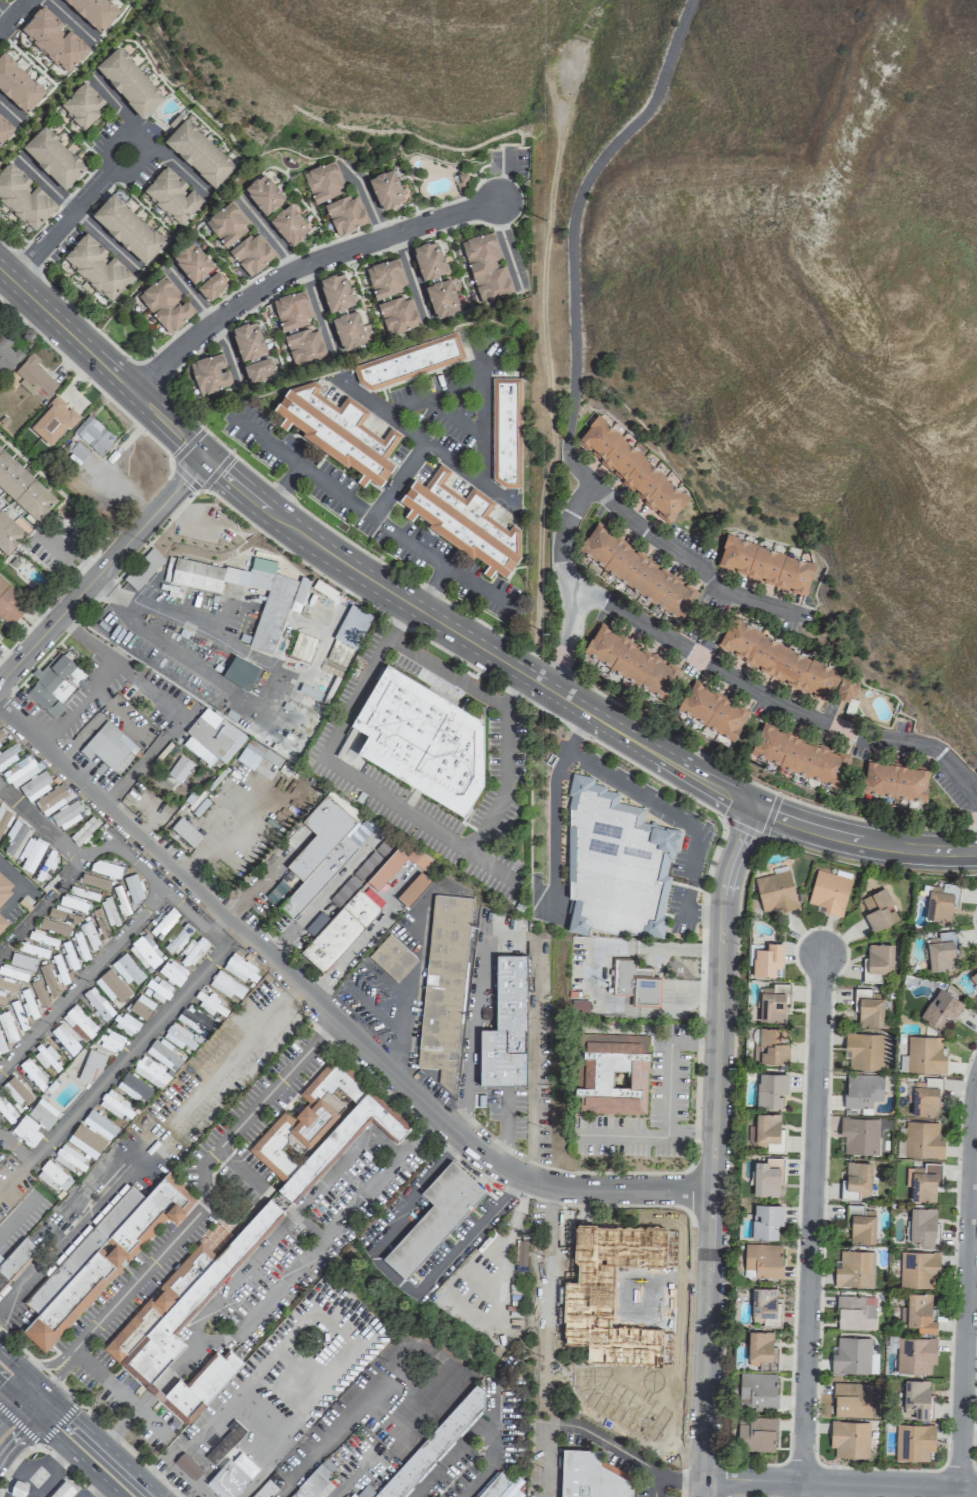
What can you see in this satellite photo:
building: (94, 12)
road: (12, 14)
building: (53, 40)
building: (130, 82)
building: (17, 85)
building: (83, 106)
building: (4, 129)
building: (199, 153)
building: (54, 157)
building: (324, 182)
building: (387, 189)
building: (265, 194)
road: (368, 194)
building: (173, 196)
building: (24, 198)
road: (77, 207)
road: (76, 211)
building: (346, 214)
road: (572, 214)
building: (228, 223)
building: (290, 225)
building: (128, 228)
road: (268, 230)
road: (508, 242)
building: (252, 253)
building: (430, 260)
building: (193, 263)
road: (297, 266)
building: (98, 267)
building: (486, 269)
road: (411, 277)
building: (386, 278)
building: (213, 286)
building: (337, 292)
building: (443, 299)
building: (166, 305)
road: (318, 309)
building: (293, 310)
building: (399, 315)
road: (215, 318)
road: (65, 330)
building: (350, 331)
building: (249, 341)
building: (305, 346)
building: (7, 355)
building: (410, 362)
building: (259, 370)
building: (209, 374)
building: (33, 376)
road: (443, 391)
road: (481, 405)
building: (52, 421)
road: (166, 425)
building: (338, 430)
building: (506, 431)
building: (95, 435)
road: (416, 435)
road: (267, 442)
building: (77, 450)
traffic signals: (202, 458)
road: (480, 459)
building: (633, 470)
building: (24, 487)
road: (117, 490)
road: (371, 515)
building: (464, 521)
building: (9, 533)
road: (54, 544)
road: (679, 552)
road: (67, 555)
building: (766, 565)
building: (143, 568)
road: (101, 570)
building: (637, 573)
road: (369, 580)
road: (564, 582)
road: (479, 586)
building: (300, 590)
road: (111, 591)
building: (9, 605)
building: (269, 618)
road: (308, 625)
building: (352, 626)
road: (141, 630)
building: (0, 636)
building: (778, 660)
building: (630, 662)
road: (287, 673)
building: (53, 685)
building: (848, 690)
road: (567, 699)
road: (769, 699)
road: (166, 703)
road: (79, 706)
building: (711, 711)
road: (576, 730)
building: (1, 734)
building: (213, 735)
building: (422, 739)
building: (111, 746)
building: (9, 754)
building: (252, 754)
building: (800, 756)
road: (668, 759)
building: (179, 769)
building: (20, 770)
building: (894, 781)
building: (34, 786)
building: (51, 799)
traffic signals: (751, 807)
building: (67, 814)
building: (3, 820)
road: (680, 821)
road: (39, 825)
road: (552, 827)
building: (185, 832)
road: (440, 836)
building: (15, 837)
road: (861, 842)
building: (325, 849)
building: (30, 853)
building: (615, 865)
building: (105, 868)
road: (728, 874)
road: (16, 877)
building: (94, 881)
building: (133, 887)
building: (5, 888)
building: (278, 888)
building: (414, 889)
building: (776, 891)
building: (829, 892)
building: (84, 893)
road: (320, 895)
road: (157, 896)
building: (120, 900)
building: (358, 902)
building: (73, 903)
building: (939, 905)
building: (878, 909)
road: (187, 910)
building: (108, 911)
building: (63, 914)
building: (2, 922)
building: (100, 922)
building: (164, 923)
building: (501, 924)
building: (54, 927)
building: (89, 935)
road: (367, 936)
building: (177, 937)
building: (41, 938)
building: (79, 946)
building: (34, 950)
building: (192, 951)
building: (941, 951)
building: (144, 952)
building: (68, 955)
building: (392, 958)
building: (768, 960)
building: (877, 961)
building: (239, 968)
building: (127, 969)
building: (59, 970)
road: (720, 970)
building: (171, 971)
building: (13, 972)
road: (595, 977)
building: (974, 978)
building: (48, 979)
building: (635, 983)
building: (8, 985)
building: (226, 985)
building: (112, 986)
building: (444, 986)
building: (159, 989)
building: (38, 992)
building: (26, 1002)
building: (209, 1003)
building: (774, 1003)
building: (97, 1004)
building: (141, 1006)
building: (868, 1008)
building: (941, 1009)
road: (328, 1012)
building: (16, 1016)
road: (718, 1019)
building: (195, 1020)
building: (79, 1023)
building: (505, 1023)
building: (124, 1024)
building: (6, 1027)
building: (180, 1036)
building: (64, 1039)
road: (468, 1039)
building: (110, 1040)
building: (1, 1045)
building: (772, 1045)
building: (864, 1051)
road: (235, 1052)
road: (128, 1053)
building: (925, 1055)
building: (157, 1063)
road: (668, 1063)
building: (90, 1064)
road: (533, 1064)
building: (610, 1074)
building: (133, 1088)
building: (17, 1089)
building: (771, 1090)
building: (864, 1091)
road: (268, 1092)
building: (925, 1097)
building: (116, 1105)
building: (7, 1110)
building: (42, 1113)
building: (99, 1124)
road: (505, 1127)
building: (320, 1129)
building: (25, 1130)
building: (770, 1131)
road: (653, 1132)
building: (860, 1136)
building: (85, 1140)
building: (923, 1140)
road: (346, 1158)
building: (69, 1159)
building: (49, 1174)
road: (380, 1175)
building: (766, 1178)
building: (857, 1179)
building: (923, 1181)
road: (810, 1216)
building: (435, 1217)
building: (767, 1222)
building: (860, 1225)
building: (923, 1226)
building: (521, 1253)
building: (101, 1256)
building: (763, 1260)
building: (15, 1261)
road: (152, 1261)
building: (854, 1268)
building: (918, 1269)
road: (708, 1270)
road: (394, 1275)
road: (284, 1276)
road: (965, 1287)
road: (16, 1289)
road: (320, 1303)
building: (766, 1306)
building: (854, 1313)
building: (919, 1313)
building: (185, 1321)
building: (504, 1338)
building: (762, 1348)
building: (915, 1355)
building: (853, 1356)
road: (10, 1360)
road: (49, 1364)
road: (61, 1370)
road: (31, 1381)
road: (545, 1383)
building: (759, 1387)
road: (10, 1392)
traffic signals: (43, 1392)
road: (31, 1397)
building: (851, 1400)
building: (914, 1400)
traffic signals: (20, 1402)
road: (38, 1403)
road: (27, 1408)
road: (9, 1411)
road: (89, 1414)
traffic signals: (34, 1415)
road: (484, 1423)
building: (756, 1434)
road: (17, 1437)
building: (849, 1438)
building: (913, 1441)
building: (225, 1442)
road: (39, 1443)
building: (434, 1443)
road: (98, 1445)
road: (319, 1452)
road: (77, 1455)
building: (330, 1461)
road: (14, 1462)
building: (188, 1466)
road: (68, 1469)
building: (589, 1476)
building: (228, 1479)
road: (838, 1482)
building: (313, 1483)
building: (500, 1486)
building: (18, 1488)
building: (266, 1489)
road: (799, 1489)
building: (63, 1490)
building: (354, 1495)

